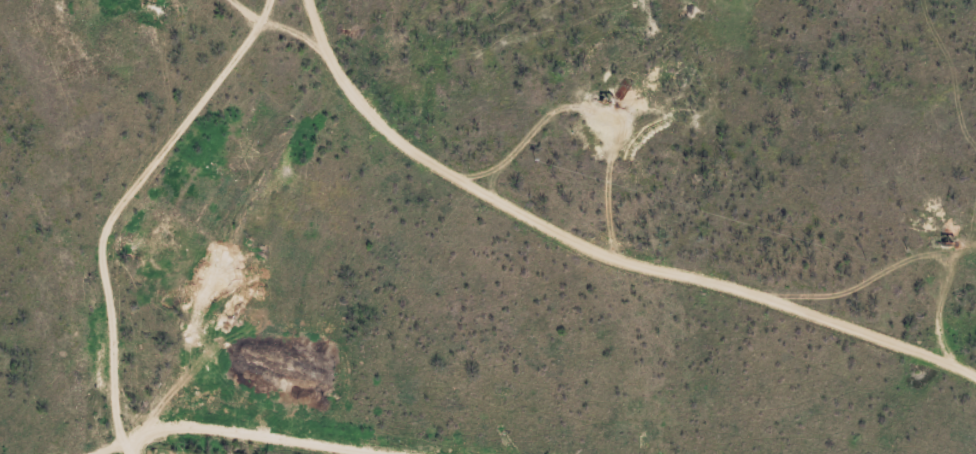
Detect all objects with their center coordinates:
road: (224, 228)
road: (629, 288)

